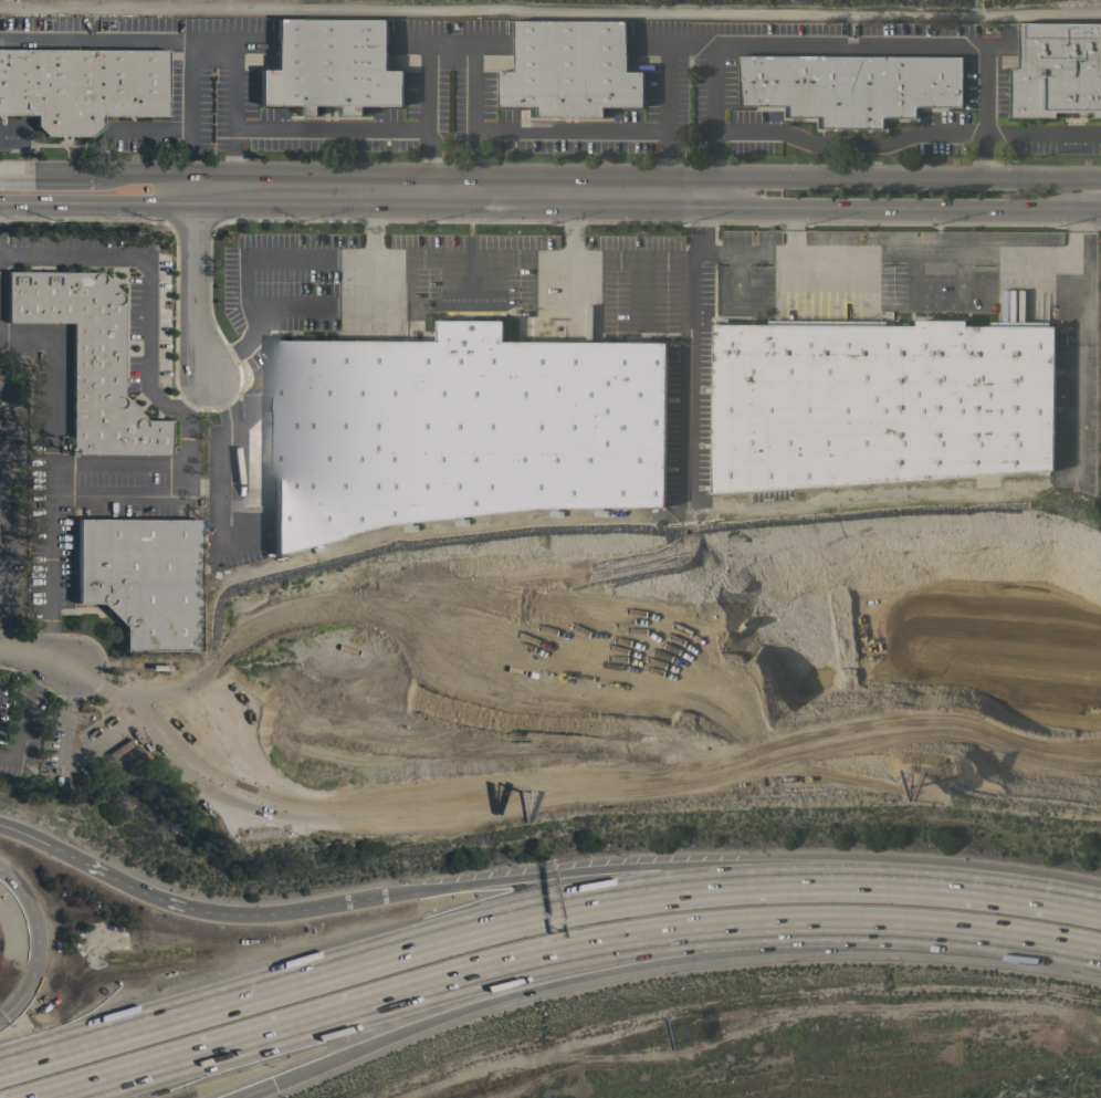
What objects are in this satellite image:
road: (172, 34)
road: (910, 46)
road: (711, 52)
building: (324, 69)
building: (1056, 70)
building: (568, 71)
building: (841, 95)
building: (74, 101)
road: (295, 127)
road: (485, 129)
road: (1042, 132)
road: (848, 145)
road: (77, 171)
road: (905, 174)
road: (175, 179)
road: (452, 190)
road: (97, 198)
road: (894, 206)
road: (1089, 206)
road: (376, 227)
road: (569, 227)
road: (747, 247)
road: (443, 263)
road: (940, 270)
road: (147, 274)
road: (193, 283)
building: (88, 357)
road: (688, 373)
road: (52, 389)
building: (1062, 391)
road: (4, 401)
building: (879, 402)
road: (2, 416)
building: (461, 429)
building: (1061, 445)
road: (2, 456)
road: (1, 461)
road: (95, 495)
road: (1, 547)
road: (0, 548)
building: (141, 578)
road: (35, 656)
road: (23, 711)
building: (289, 820)
road: (33, 836)
road: (593, 871)
road: (103, 872)
road: (961, 885)
road: (253, 914)
road: (901, 932)
road: (39, 940)
road: (649, 942)
road: (405, 944)
road: (432, 1014)
road: (2, 1017)
road: (327, 1021)
road: (245, 1088)

